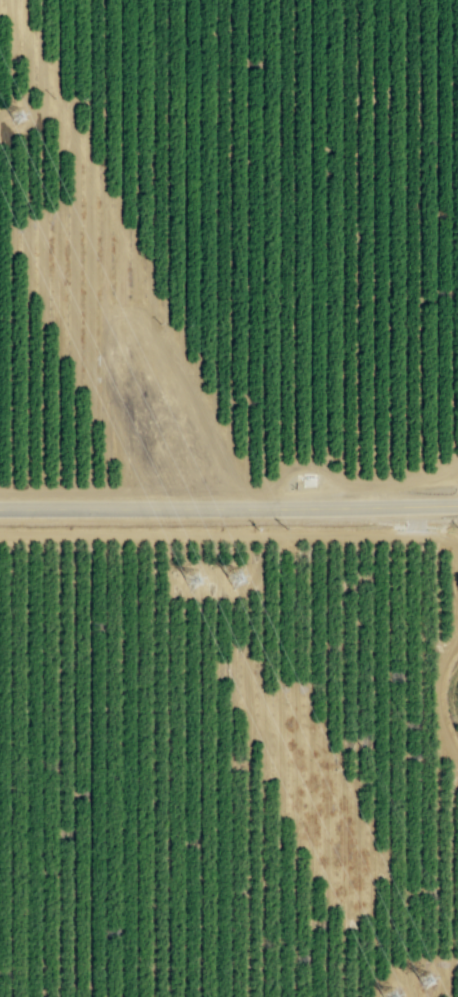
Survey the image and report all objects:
power tower: (16, 118)
road: (229, 508)
power tower: (235, 579)
power tower: (193, 581)
power tower: (425, 982)

